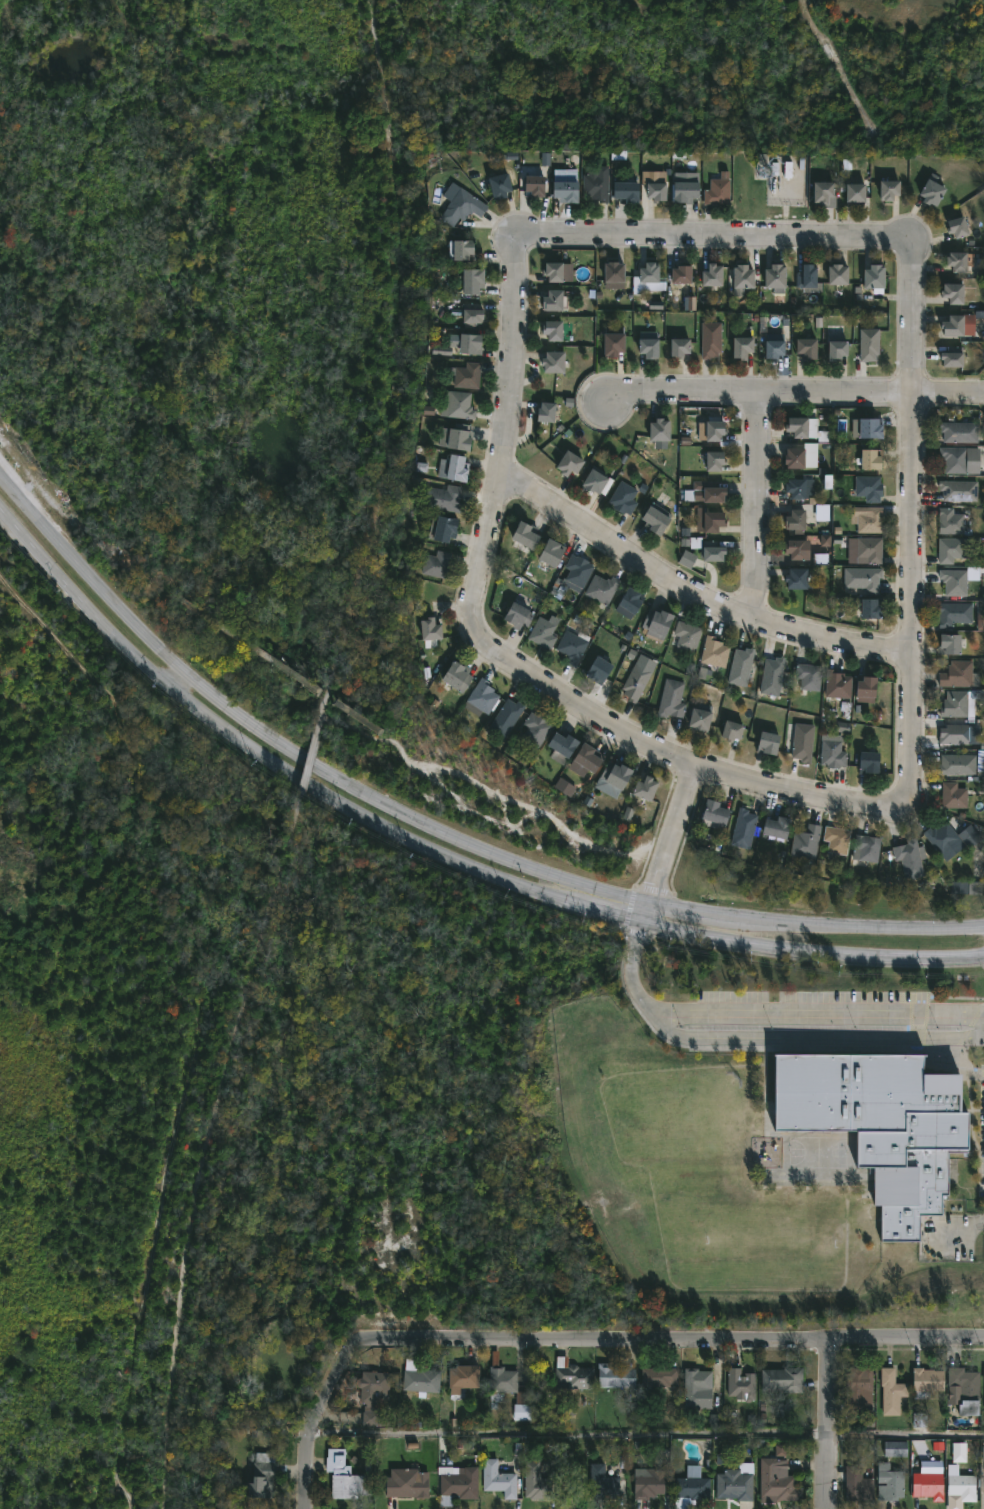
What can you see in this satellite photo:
building: (496, 184)
building: (531, 184)
building: (596, 184)
building: (786, 187)
building: (624, 188)
building: (887, 188)
building: (931, 189)
building: (563, 190)
building: (654, 190)
building: (683, 190)
building: (821, 190)
building: (717, 191)
building: (854, 191)
building: (461, 201)
building: (957, 225)
road: (713, 237)
building: (456, 248)
building: (955, 260)
building: (552, 270)
building: (611, 271)
building: (647, 272)
building: (836, 273)
building: (680, 274)
building: (711, 274)
building: (742, 275)
building: (873, 277)
building: (774, 278)
building: (808, 278)
building: (470, 280)
building: (952, 292)
building: (551, 300)
building: (469, 315)
building: (958, 325)
building: (551, 330)
building: (710, 339)
building: (468, 343)
building: (611, 343)
building: (869, 344)
building: (678, 346)
building: (740, 346)
building: (647, 347)
building: (804, 347)
building: (773, 348)
building: (836, 349)
building: (951, 357)
building: (551, 361)
railway: (401, 371)
building: (465, 375)
road: (792, 387)
building: (458, 405)
building: (543, 412)
building: (801, 426)
building: (866, 428)
building: (658, 429)
building: (713, 431)
building: (959, 431)
building: (453, 436)
building: (793, 457)
building: (869, 459)
building: (960, 459)
building: (713, 461)
building: (566, 463)
building: (451, 468)
building: (596, 482)
building: (794, 488)
building: (868, 488)
building: (958, 490)
building: (707, 491)
building: (442, 498)
building: (622, 498)
road: (754, 503)
building: (654, 518)
building: (794, 520)
building: (868, 520)
building: (710, 521)
building: (955, 521)
road: (911, 525)
building: (443, 529)
building: (524, 534)
building: (867, 548)
building: (707, 549)
building: (793, 549)
building: (951, 550)
building: (549, 553)
building: (435, 564)
building: (577, 571)
building: (795, 579)
building: (862, 579)
building: (954, 581)
building: (158, 587)
building: (601, 588)
road: (693, 591)
building: (628, 602)
building: (868, 607)
building: (954, 614)
building: (517, 616)
building: (656, 623)
building: (427, 630)
building: (542, 632)
building: (687, 635)
building: (949, 643)
building: (572, 646)
building: (714, 652)
road: (497, 658)
building: (740, 667)
building: (596, 670)
road: (178, 674)
building: (959, 675)
building: (771, 676)
building: (456, 677)
building: (808, 677)
building: (635, 681)
building: (837, 684)
building: (864, 686)
building: (481, 699)
building: (671, 699)
building: (957, 705)
building: (506, 717)
building: (698, 720)
building: (731, 730)
building: (534, 731)
building: (955, 735)
building: (802, 742)
building: (767, 743)
building: (560, 747)
building: (832, 754)
building: (586, 757)
building: (867, 763)
building: (957, 764)
building: (614, 775)
building: (643, 789)
building: (953, 796)
building: (713, 814)
road: (428, 827)
building: (774, 828)
building: (743, 829)
building: (941, 837)
building: (837, 840)
building: (806, 843)
road: (665, 848)
building: (866, 849)
road: (437, 853)
building: (908, 859)
road: (633, 986)
road: (834, 1015)
building: (878, 1121)
railway: (211, 1153)
road: (960, 1231)
road: (654, 1341)
building: (576, 1374)
building: (618, 1375)
building: (662, 1376)
building: (422, 1378)
building: (465, 1379)
building: (785, 1379)
building: (923, 1381)
building: (743, 1384)
building: (698, 1385)
building: (511, 1387)
building: (859, 1389)
building: (962, 1389)
road: (830, 1390)
building: (891, 1390)
building: (374, 1393)
building: (983, 1397)
road: (313, 1431)
road: (571, 1432)
building: (898, 1448)
road: (827, 1472)
building: (264, 1476)
building: (347, 1476)
building: (501, 1479)
building: (958, 1479)
building: (571, 1481)
building: (538, 1482)
building: (780, 1482)
building: (891, 1482)
building: (410, 1483)
building: (605, 1483)
building: (651, 1483)
building: (461, 1484)
building: (738, 1484)
building: (860, 1484)
building: (926, 1485)
building: (694, 1488)

